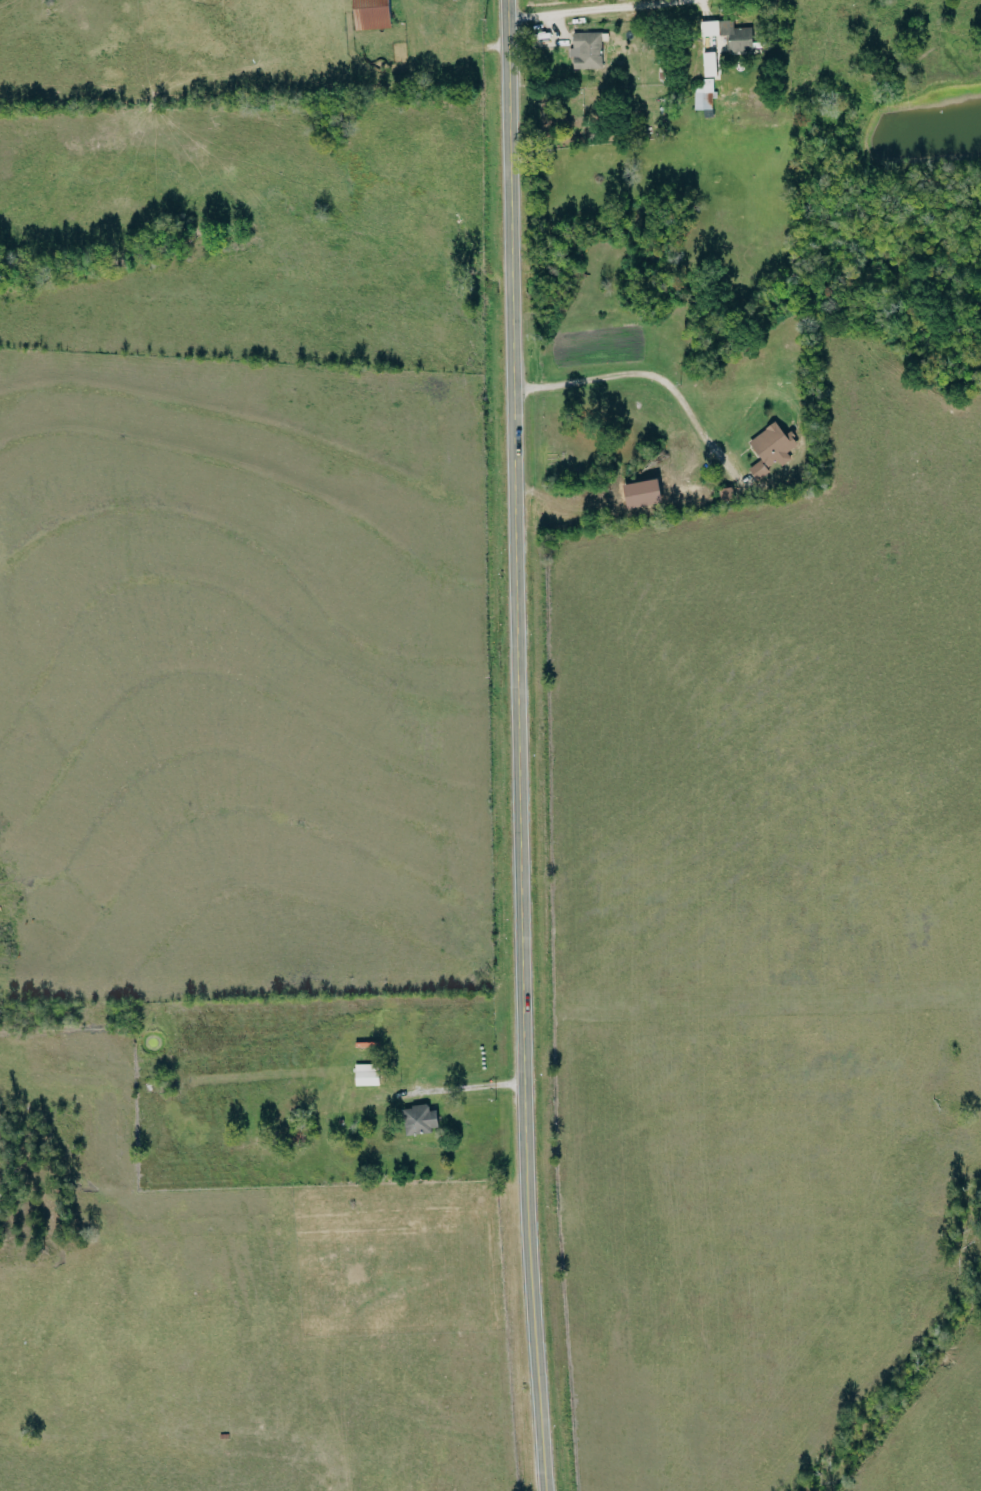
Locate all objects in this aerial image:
road: (592, 9)
building: (371, 14)
building: (587, 51)
building: (718, 54)
building: (774, 446)
building: (759, 470)
road: (517, 745)
building: (366, 1074)
building: (420, 1119)

